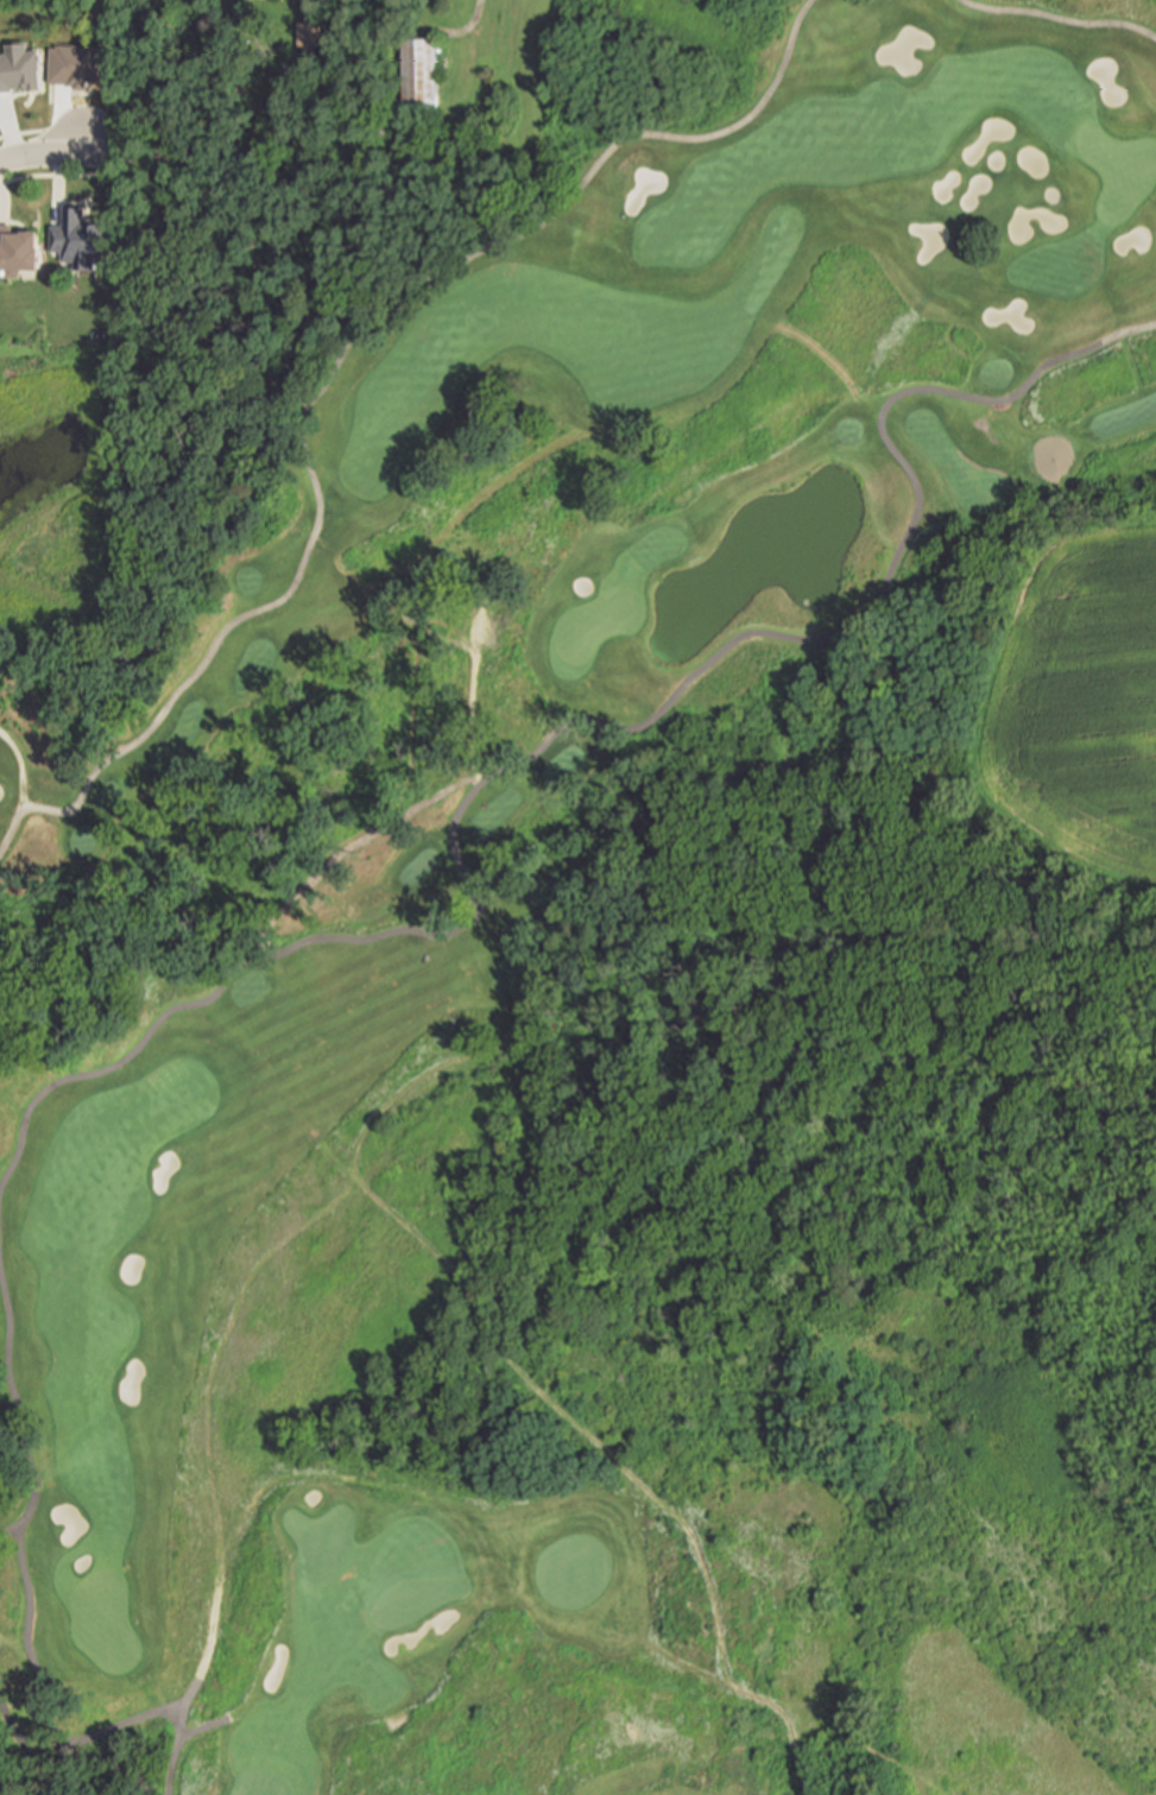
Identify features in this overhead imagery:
road: (1057, 19)
building: (308, 32)
building: (308, 52)
building: (18, 67)
building: (419, 71)
road: (42, 150)
building: (80, 244)
building: (19, 249)
road: (340, 350)
park: (594, 622)
road: (585, 720)
road: (18, 786)
park: (607, 947)
road: (18, 1421)
road: (29, 1662)
road: (138, 1715)
road: (198, 1727)
road: (172, 1750)

